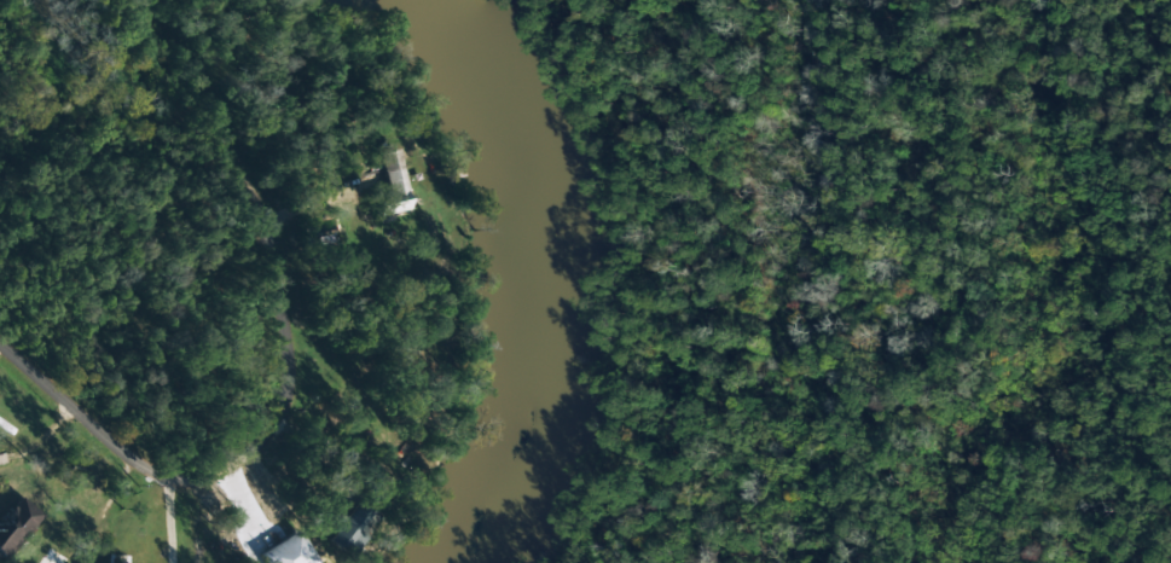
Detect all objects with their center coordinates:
building: (389, 186)
river: (545, 279)
road: (288, 284)
road: (66, 388)
building: (15, 524)
building: (350, 528)
building: (285, 551)

